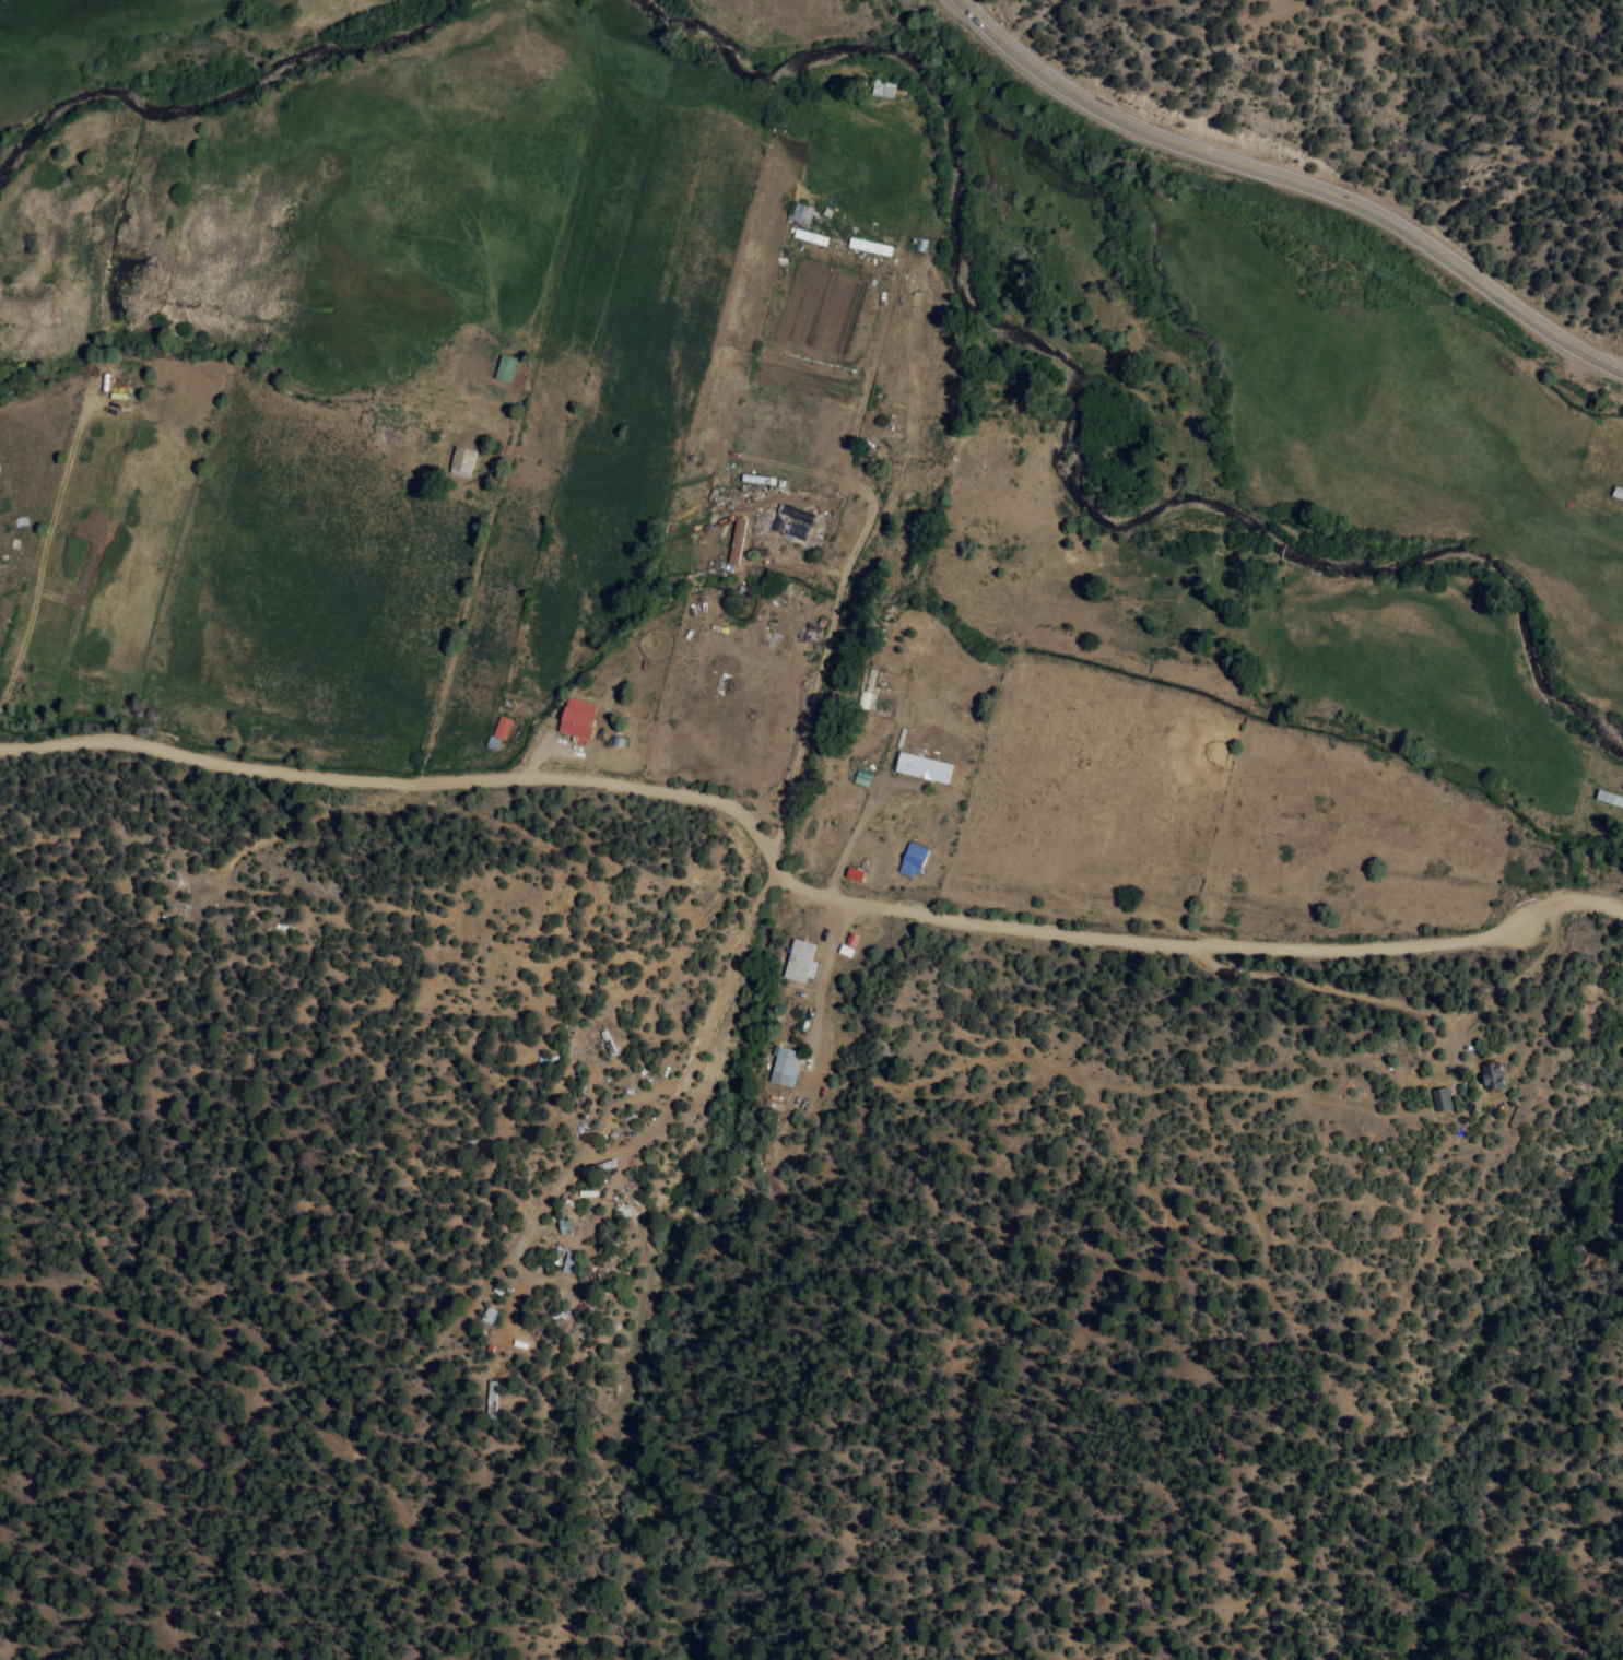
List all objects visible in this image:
river: (220, 92)
road: (1293, 179)
building: (800, 213)
building: (868, 247)
building: (503, 368)
road: (877, 379)
river: (1070, 434)
building: (461, 461)
road: (38, 514)
building: (736, 541)
building: (575, 718)
building: (501, 727)
road: (826, 730)
building: (491, 742)
building: (922, 767)
road: (417, 780)
building: (910, 859)
road: (1207, 911)
building: (799, 961)
building: (1491, 1074)
building: (1440, 1097)
building: (569, 1262)

